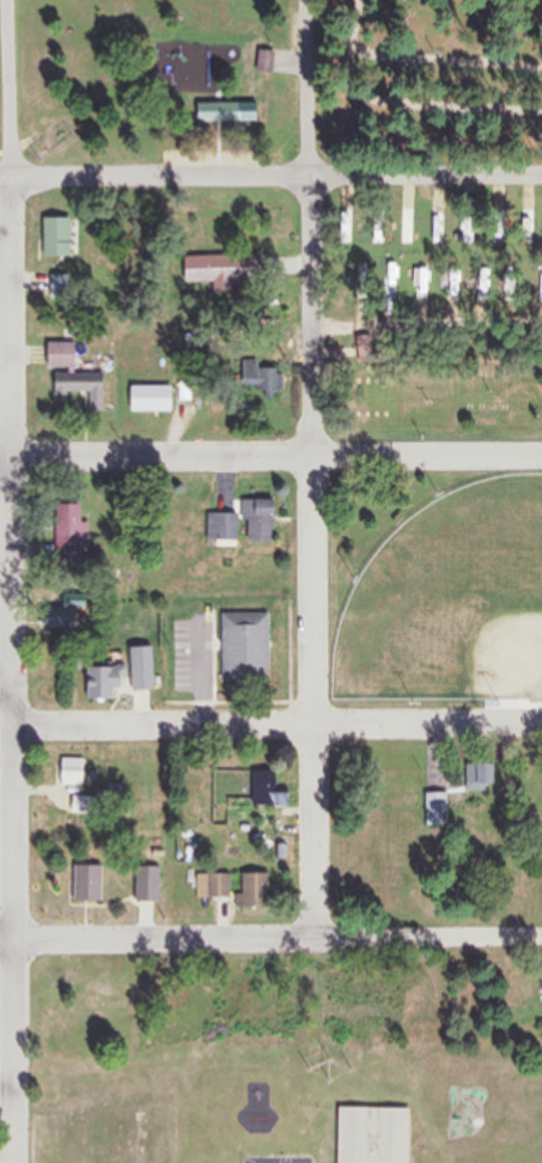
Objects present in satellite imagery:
building: (262, 61)
road: (312, 87)
road: (8, 89)
building: (214, 112)
road: (217, 144)
road: (5, 153)
road: (276, 175)
road: (6, 178)
building: (54, 236)
building: (209, 269)
park: (363, 284)
building: (57, 355)
building: (262, 383)
building: (80, 386)
building: (147, 398)
road: (270, 458)
building: (256, 520)
building: (219, 529)
road: (312, 556)
building: (242, 647)
building: (139, 669)
road: (12, 670)
building: (98, 683)
road: (6, 694)
parking lot: (6, 696)
road: (276, 726)
building: (69, 772)
building: (264, 790)
building: (434, 805)
building: (84, 884)
building: (145, 884)
building: (215, 885)
building: (250, 890)
road: (270, 939)
building: (47, 979)
building: (369, 1135)

